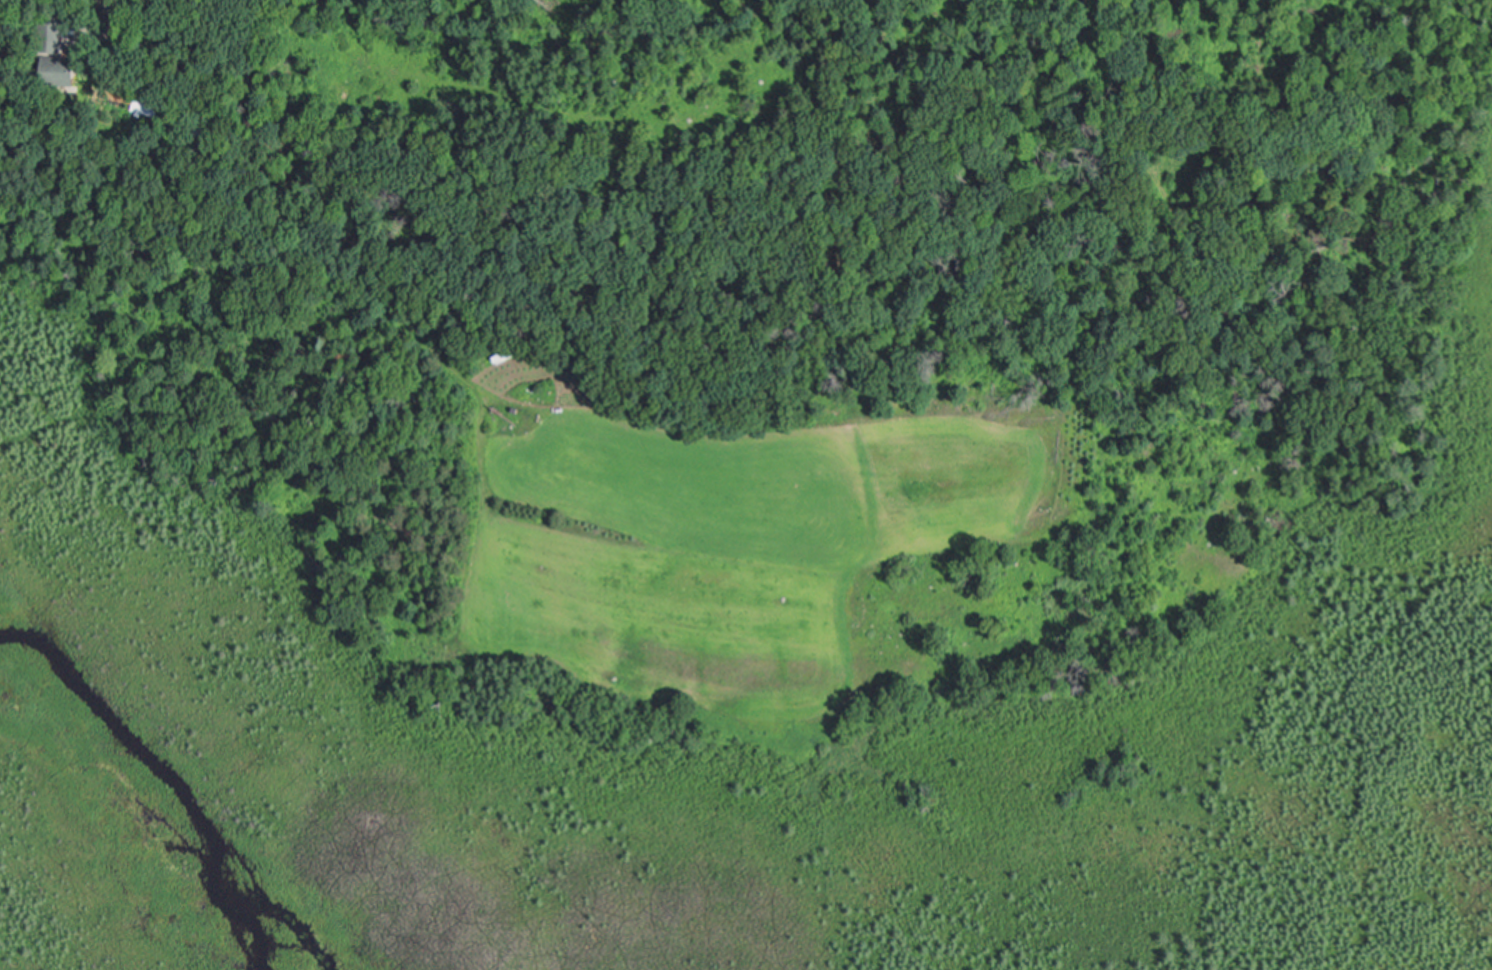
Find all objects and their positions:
road: (104, 12)
building: (58, 70)

